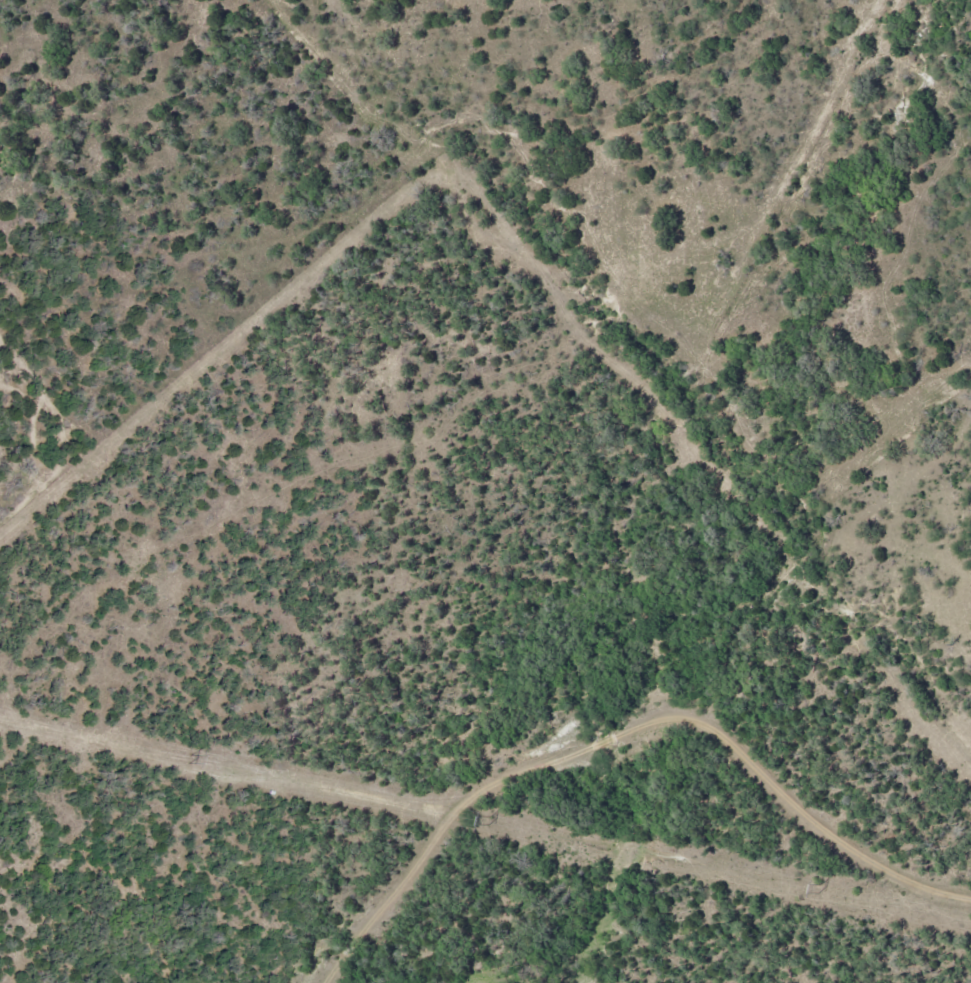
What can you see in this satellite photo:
road: (627, 733)
power tower: (188, 756)
power tower: (488, 819)
power tower: (819, 888)

